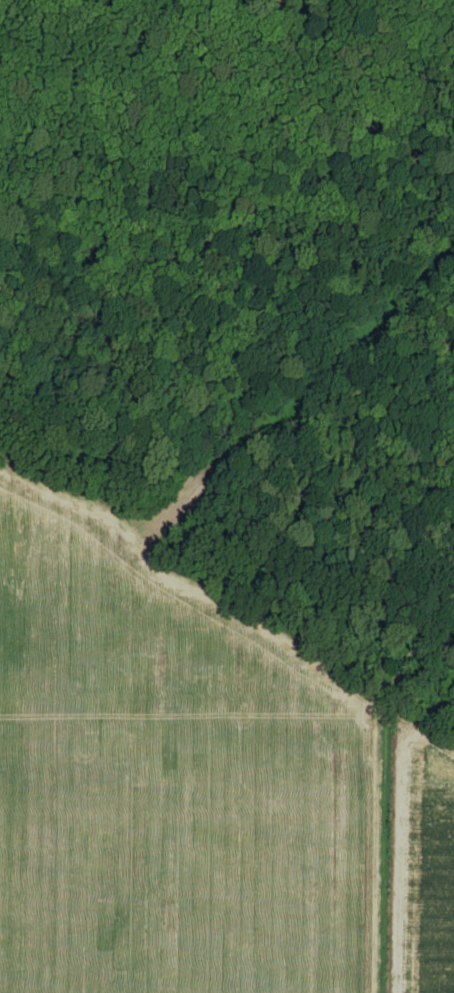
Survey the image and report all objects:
road: (6, 472)
road: (230, 604)

